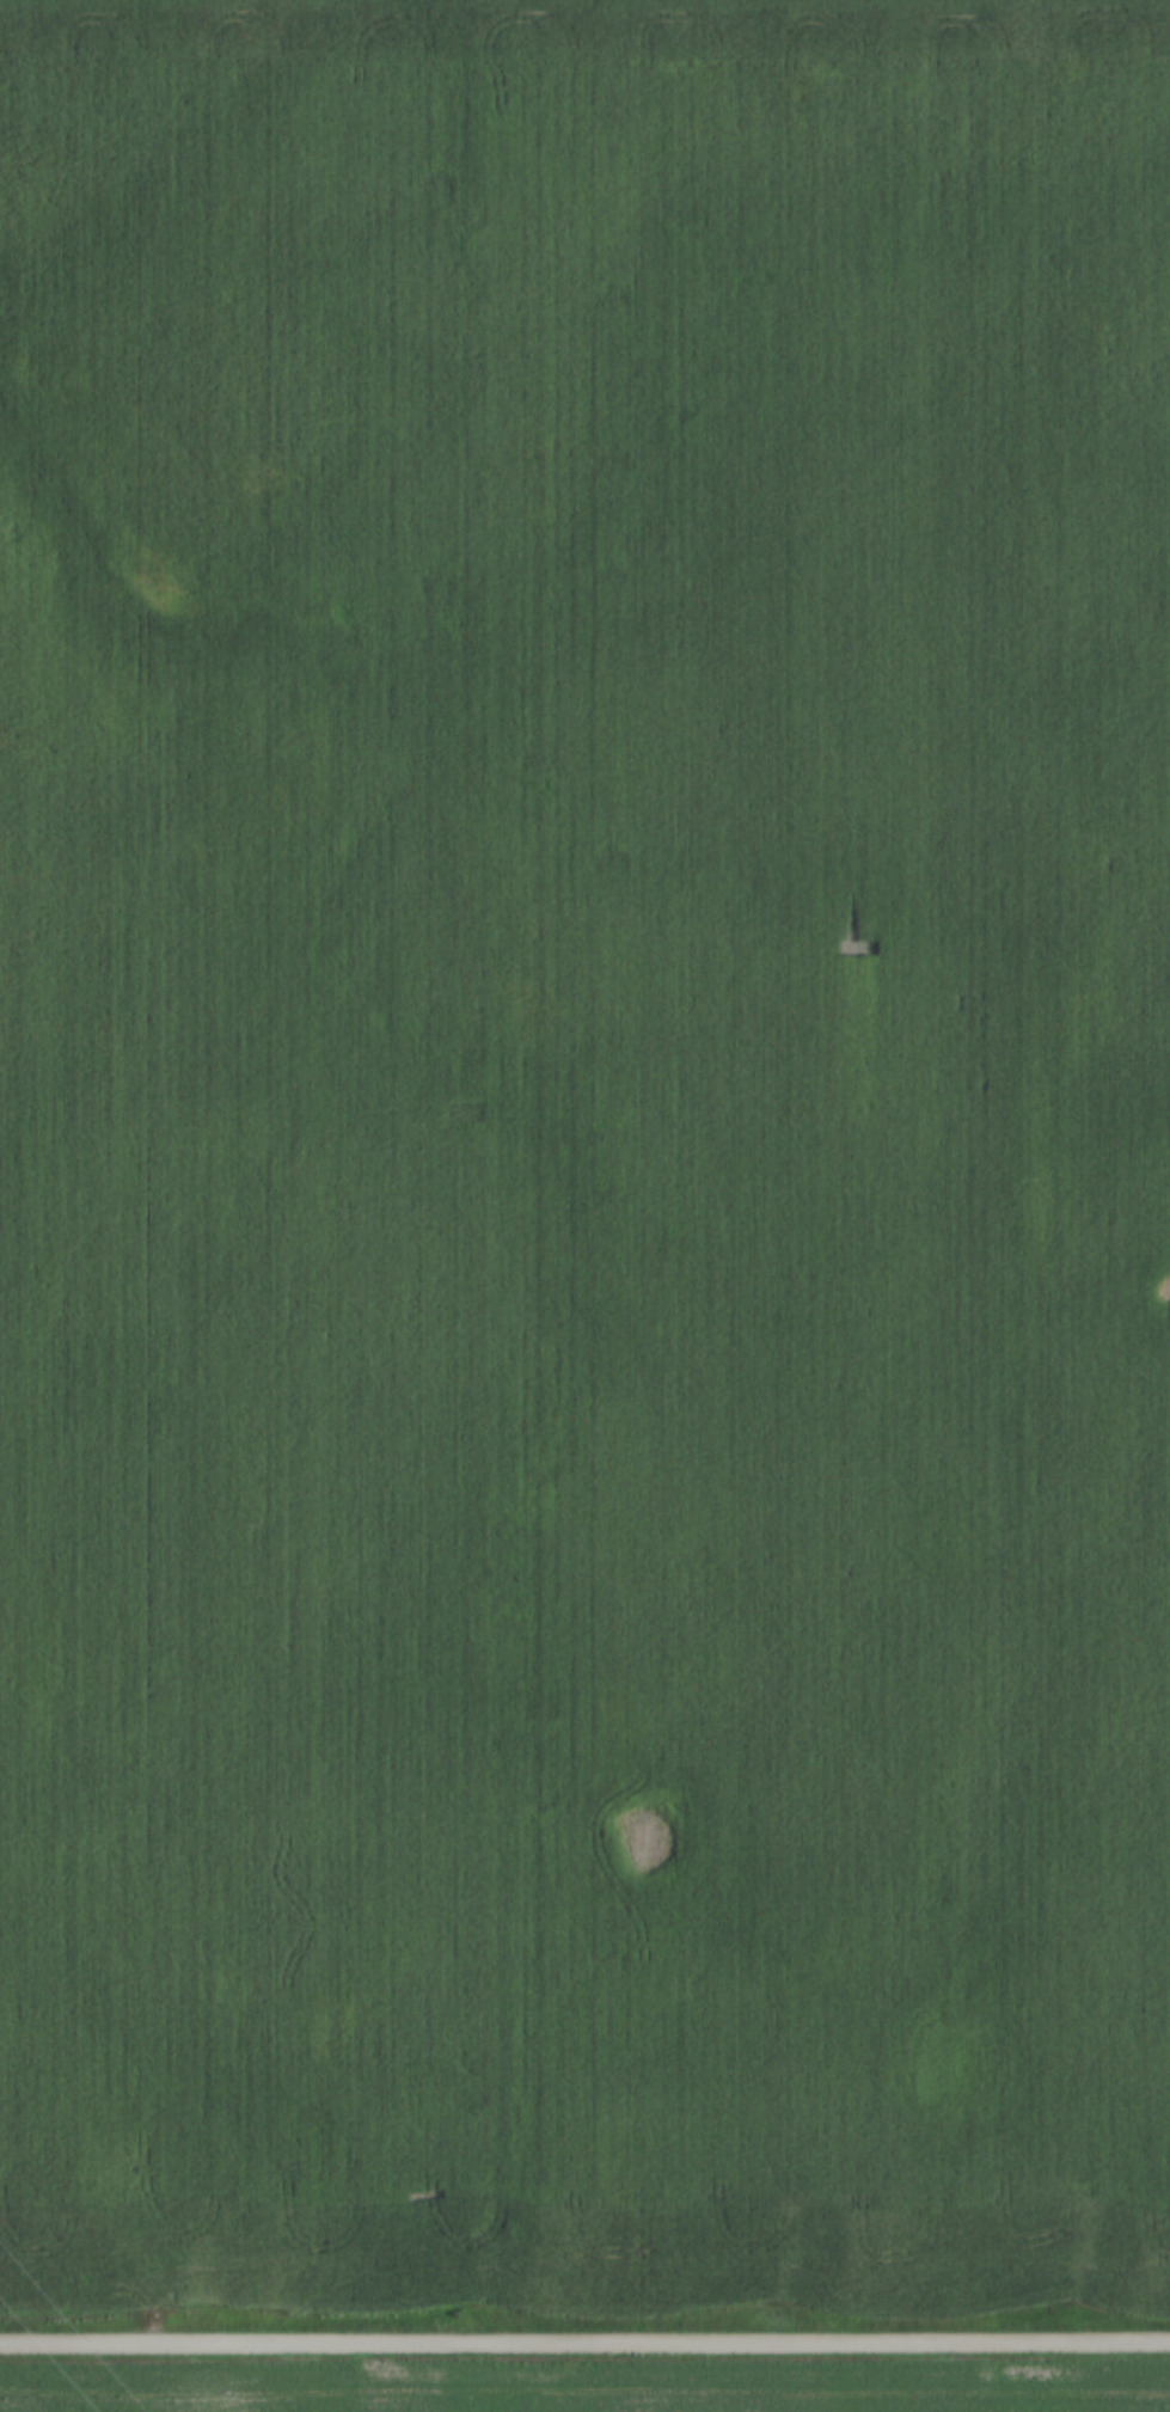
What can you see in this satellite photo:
road: (584, 2340)

